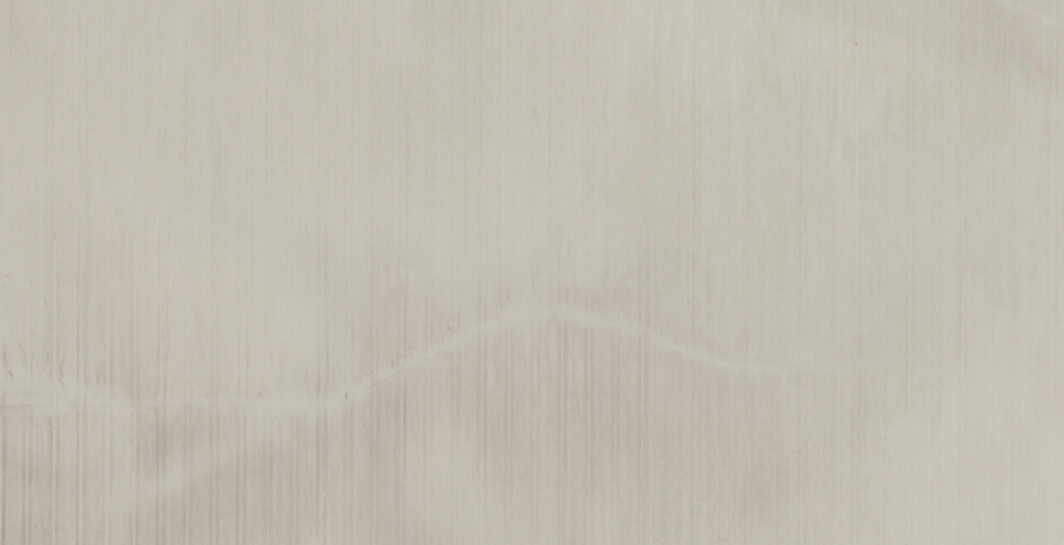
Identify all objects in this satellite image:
road: (136, 272)

